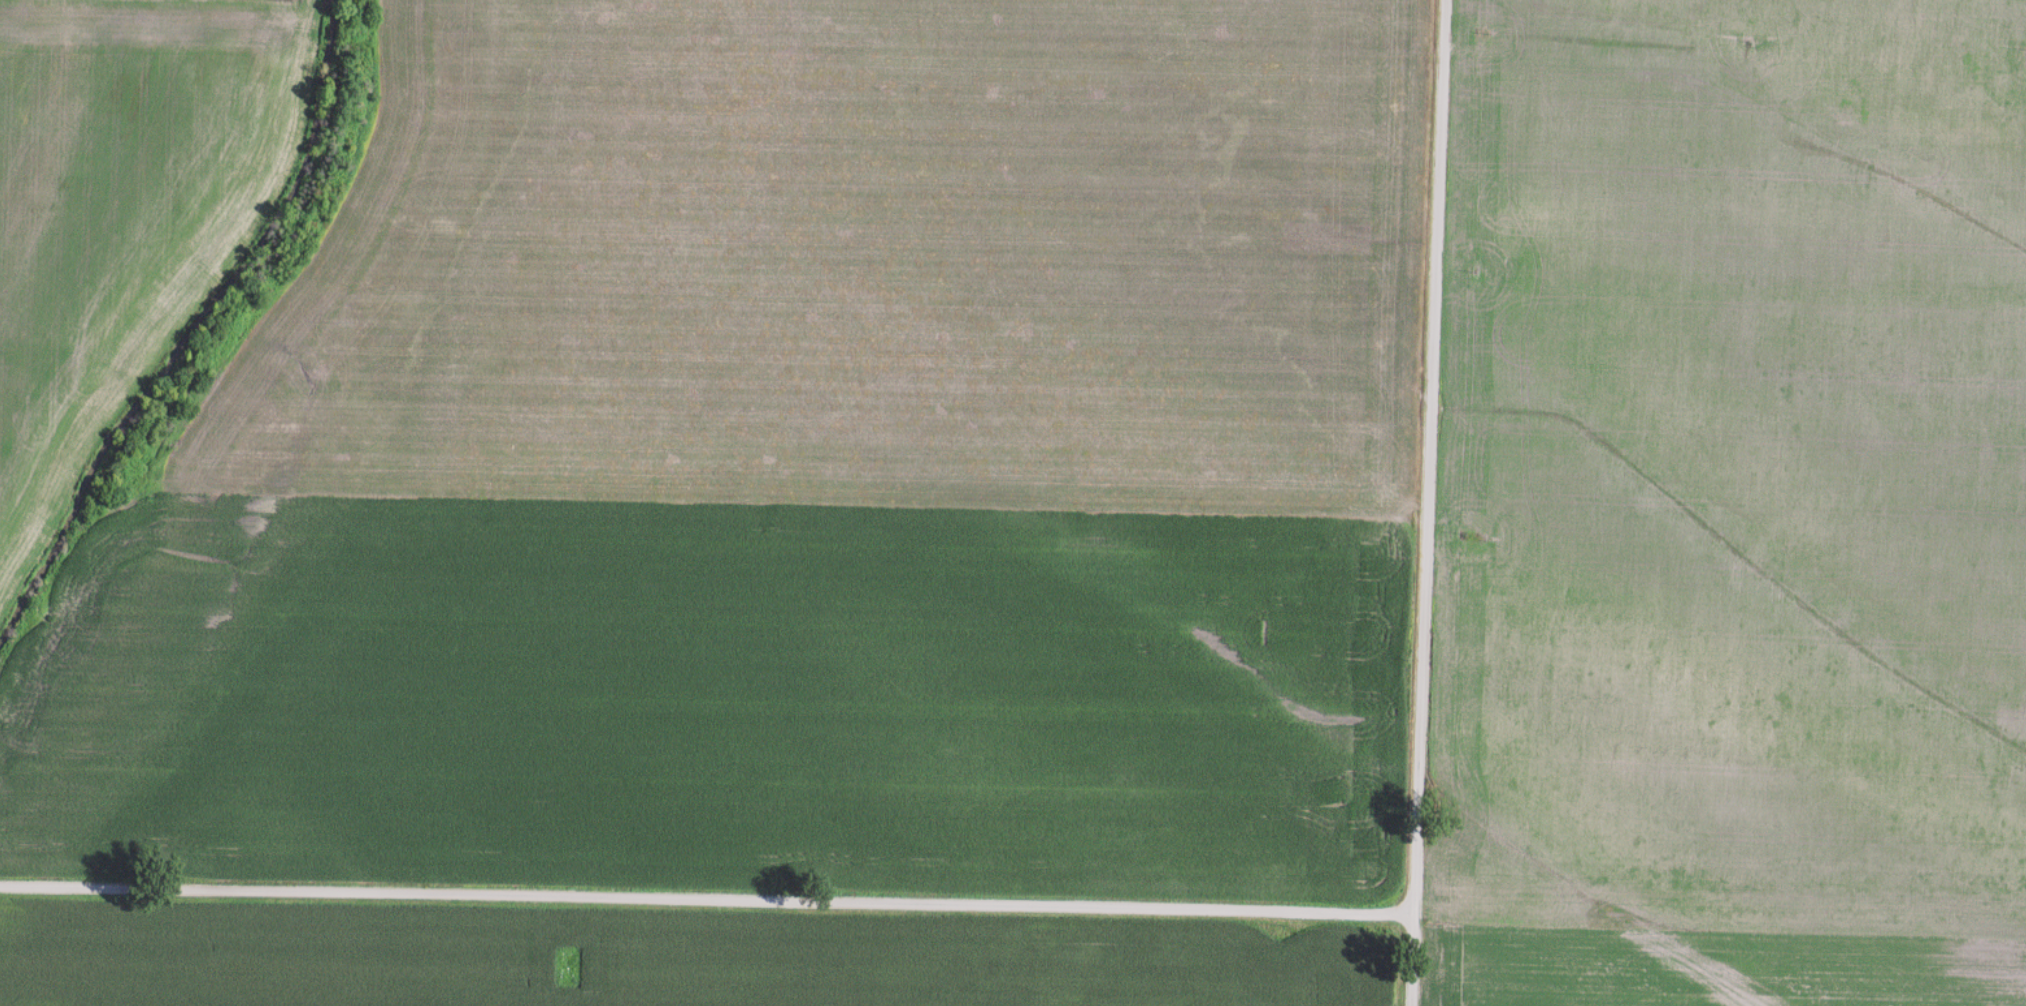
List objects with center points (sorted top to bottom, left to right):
road: (1427, 502)
road: (706, 901)

